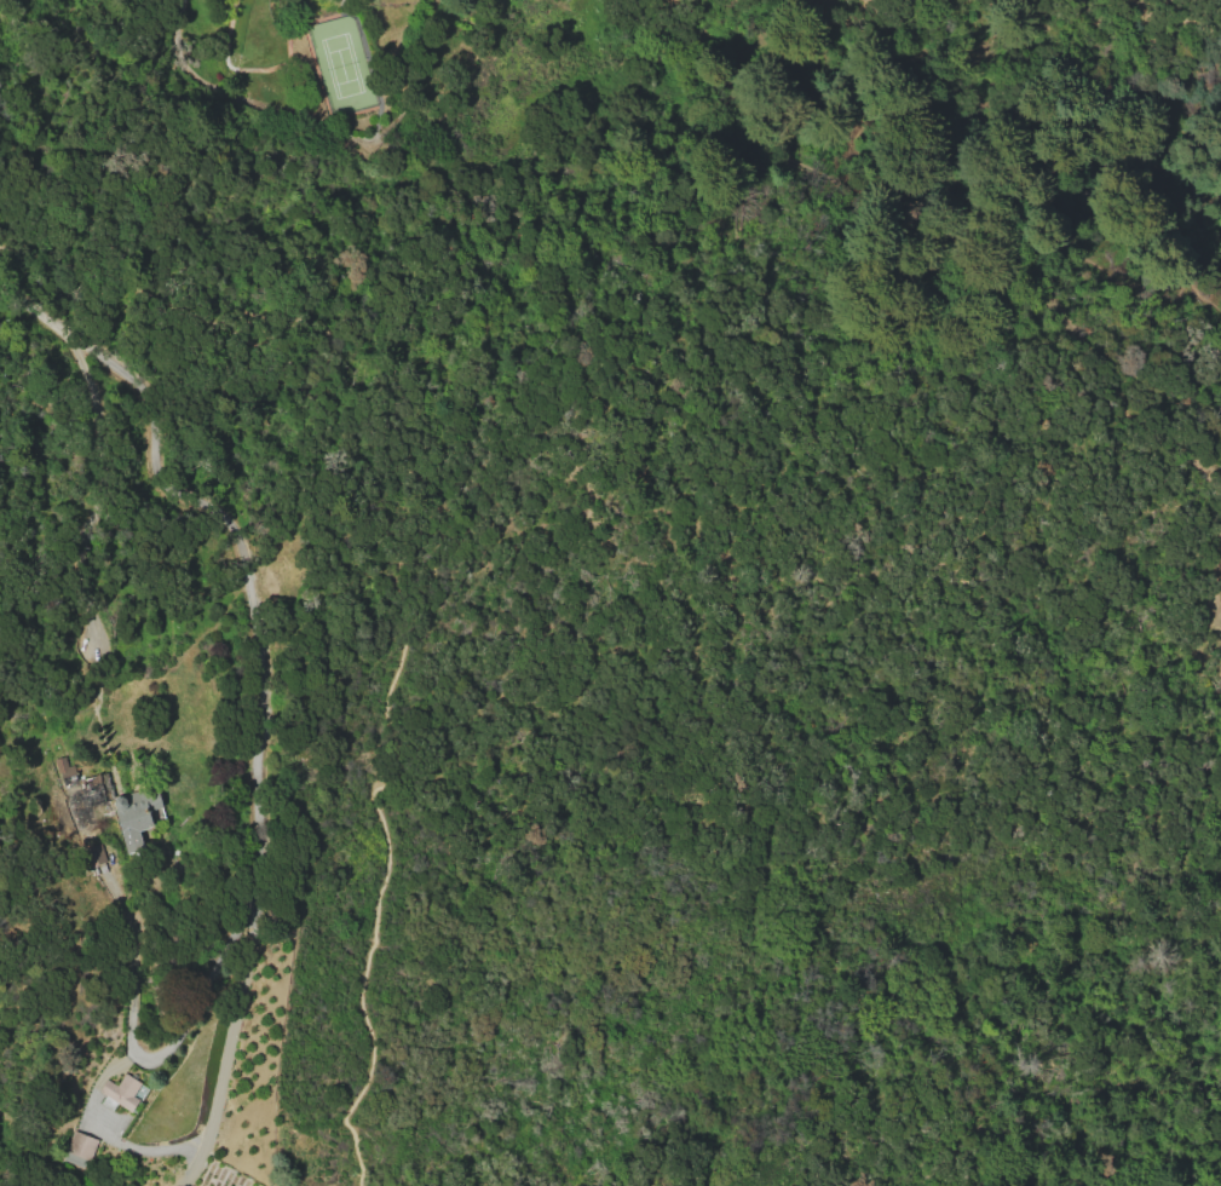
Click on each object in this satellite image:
road: (436, 523)
road: (259, 721)
building: (65, 768)
building: (86, 798)
building: (136, 813)
building: (94, 853)
building: (121, 1093)
building: (82, 1145)

